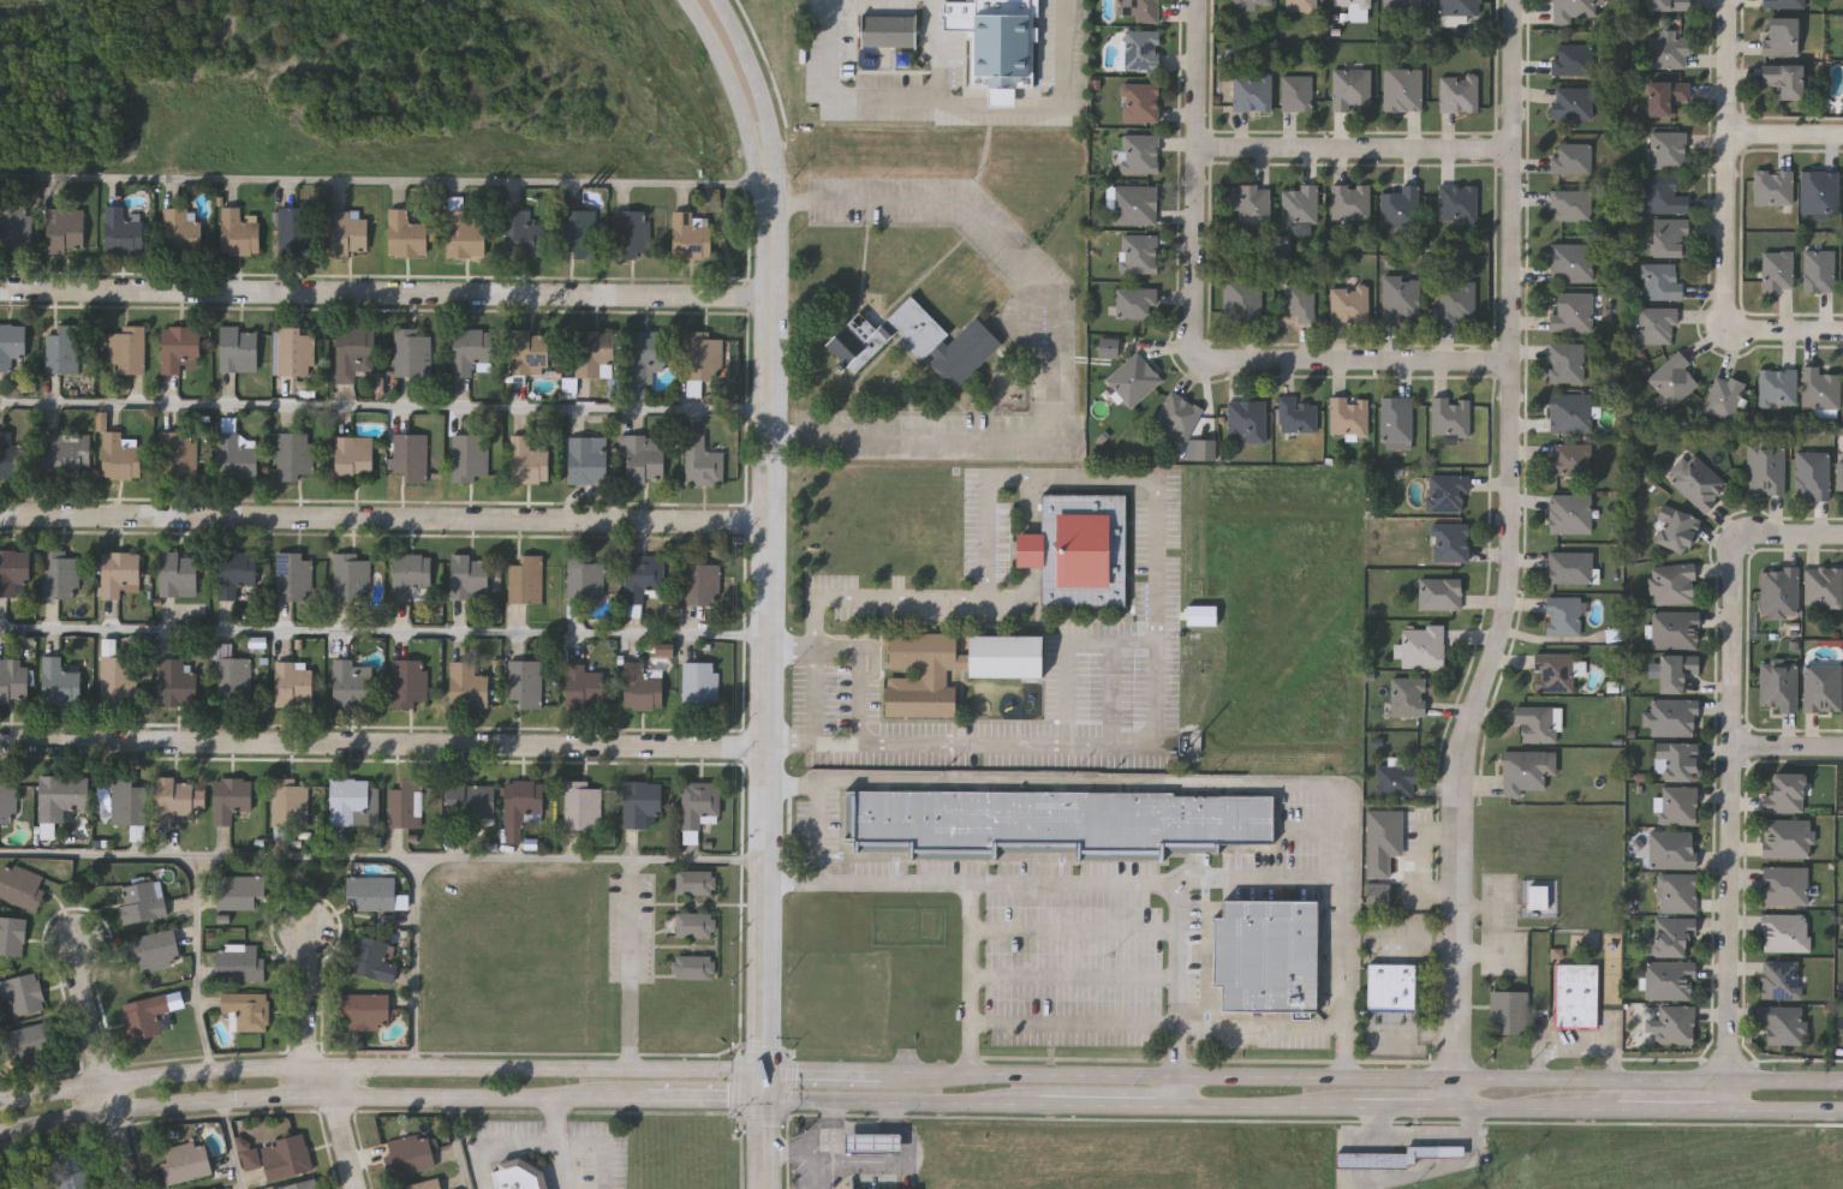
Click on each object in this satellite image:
building: (1252, 2)
building: (1352, 2)
building: (1401, 2)
building: (1783, 2)
building: (1668, 4)
building: (1301, 5)
building: (1456, 6)
building: (1139, 8)
building: (1570, 10)
building: (888, 29)
building: (1779, 35)
building: (997, 42)
building: (1141, 48)
building: (1668, 50)
building: (1570, 58)
road: (752, 74)
road: (728, 77)
building: (1784, 78)
building: (1350, 88)
building: (1401, 89)
building: (1251, 90)
building: (1295, 91)
building: (1456, 91)
building: (1664, 95)
road: (888, 96)
building: (1140, 101)
building: (1570, 102)
road: (1050, 107)
road: (1787, 137)
building: (1668, 148)
building: (1139, 151)
building: (1570, 156)
road: (1355, 161)
road: (1730, 165)
road: (383, 180)
road: (1204, 181)
building: (1772, 185)
building: (1819, 190)
building: (1663, 192)
building: (1349, 199)
building: (1456, 202)
building: (1134, 203)
building: (1251, 203)
building: (1299, 204)
building: (1570, 204)
building: (1398, 205)
building: (14, 227)
building: (294, 227)
building: (66, 228)
building: (125, 228)
building: (181, 229)
building: (240, 231)
building: (579, 231)
building: (350, 232)
building: (465, 232)
building: (521, 232)
building: (631, 232)
building: (406, 233)
building: (691, 235)
building: (1668, 235)
building: (1139, 252)
building: (1571, 261)
building: (1777, 269)
building: (1818, 269)
building: (1662, 280)
road: (387, 293)
building: (1401, 297)
building: (1242, 298)
building: (1299, 299)
building: (1134, 300)
building: (1456, 300)
building: (1349, 303)
building: (1571, 310)
building: (1656, 323)
road: (1787, 334)
road: (1054, 337)
building: (918, 341)
building: (12, 342)
building: (1109, 345)
building: (62, 347)
building: (180, 347)
building: (471, 347)
building: (126, 348)
building: (239, 348)
building: (293, 349)
building: (354, 351)
building: (531, 351)
building: (413, 352)
building: (594, 352)
building: (703, 354)
building: (645, 357)
building: (1565, 360)
road: (1356, 372)
building: (1133, 378)
building: (1672, 378)
building: (1777, 387)
building: (1820, 387)
building: (1724, 395)
road: (387, 406)
building: (1569, 411)
building: (1177, 414)
building: (1296, 414)
building: (1348, 414)
building: (1450, 416)
building: (1397, 417)
building: (1246, 419)
building: (1201, 450)
building: (66, 452)
building: (178, 453)
building: (235, 454)
building: (294, 454)
building: (12, 455)
building: (120, 455)
building: (410, 455)
building: (354, 456)
building: (470, 456)
building: (645, 456)
building: (1569, 458)
building: (589, 459)
building: (527, 460)
building: (703, 461)
building: (1766, 468)
building: (1838, 473)
building: (1812, 474)
building: (1698, 480)
building: (1448, 491)
building: (1569, 513)
road: (387, 519)
building: (1675, 528)
road: (1787, 533)
road: (1161, 534)
building: (1450, 540)
building: (1080, 549)
road: (1505, 556)
building: (1570, 566)
building: (13, 568)
building: (237, 570)
building: (120, 572)
building: (60, 573)
building: (179, 573)
building: (293, 575)
building: (412, 575)
building: (470, 575)
building: (643, 575)
building: (352, 576)
building: (526, 578)
building: (584, 579)
building: (702, 580)
building: (1674, 582)
building: (1823, 585)
building: (1779, 591)
building: (1441, 592)
building: (634, 611)
road: (773, 613)
building: (1564, 615)
building: (1203, 616)
building: (1675, 628)
road: (386, 632)
building: (1422, 645)
road: (1067, 647)
building: (666, 650)
building: (954, 667)
road: (870, 670)
building: (1675, 670)
building: (1553, 671)
building: (233, 675)
building: (13, 679)
building: (119, 680)
building: (60, 681)
building: (177, 681)
building: (410, 681)
building: (525, 681)
building: (352, 682)
building: (294, 685)
building: (469, 685)
building: (585, 685)
building: (700, 685)
building: (1778, 686)
building: (642, 687)
building: (1823, 687)
road: (817, 693)
building: (1408, 695)
building: (1674, 716)
building: (1539, 723)
road: (386, 745)
road: (1787, 745)
building: (1677, 760)
building: (1526, 770)
building: (1396, 778)
road: (1201, 782)
building: (1784, 791)
building: (61, 795)
building: (232, 797)
building: (121, 799)
building: (179, 799)
building: (466, 799)
building: (7, 800)
building: (286, 801)
building: (354, 801)
building: (405, 803)
building: (643, 803)
building: (699, 803)
building: (1678, 803)
building: (583, 805)
building: (520, 806)
building: (1055, 823)
road: (1729, 826)
building: (1787, 837)
building: (1672, 848)
building: (1382, 852)
road: (485, 856)
road: (199, 864)
road: (1262, 878)
building: (696, 880)
road: (968, 882)
road: (1174, 883)
building: (1785, 884)
building: (22, 885)
building: (239, 890)
building: (372, 891)
building: (1677, 891)
building: (1537, 896)
building: (142, 901)
building: (696, 922)
building: (1784, 931)
building: (12, 934)
building: (1671, 934)
road: (1413, 938)
building: (154, 949)
building: (1268, 955)
building: (372, 957)
building: (239, 961)
road: (416, 961)
road: (638, 963)
building: (693, 966)
building: (1670, 979)
building: (1782, 979)
building: (1391, 986)
building: (23, 992)
building: (1577, 994)
road: (312, 997)
building: (246, 1009)
building: (365, 1010)
building: (1510, 1012)
building: (144, 1015)
building: (1783, 1022)
building: (1676, 1023)
road: (1262, 1028)
road: (1412, 1034)
building: (31, 1042)
road: (767, 1048)
road: (106, 1064)
road: (381, 1065)
traffic signals: (767, 1071)
road: (824, 1071)
road: (1362, 1077)
road: (739, 1081)
road: (791, 1085)
road: (1183, 1089)
road: (414, 1097)
traffic signals: (767, 1099)
road: (936, 1100)
road: (1111, 1101)
road: (1269, 1103)
road: (1402, 1104)
road: (1535, 1105)
road: (1674, 1106)
road: (1785, 1107)
road: (833, 1116)
road: (763, 1117)
road: (341, 1124)
road: (842, 1128)
road: (767, 1130)
road: (1422, 1139)
road: (459, 1143)
road: (562, 1143)
building: (875, 1143)
road: (233, 1146)
road: (500, 1148)
building: (250, 1154)
building: (410, 1154)
road: (794, 1154)
building: (286, 1157)
building: (1396, 1157)
building: (186, 1160)
road: (12, 1163)
building: (59, 1173)
building: (519, 1175)
building: (298, 1184)
building: (422, 1184)
building: (211, 1188)

